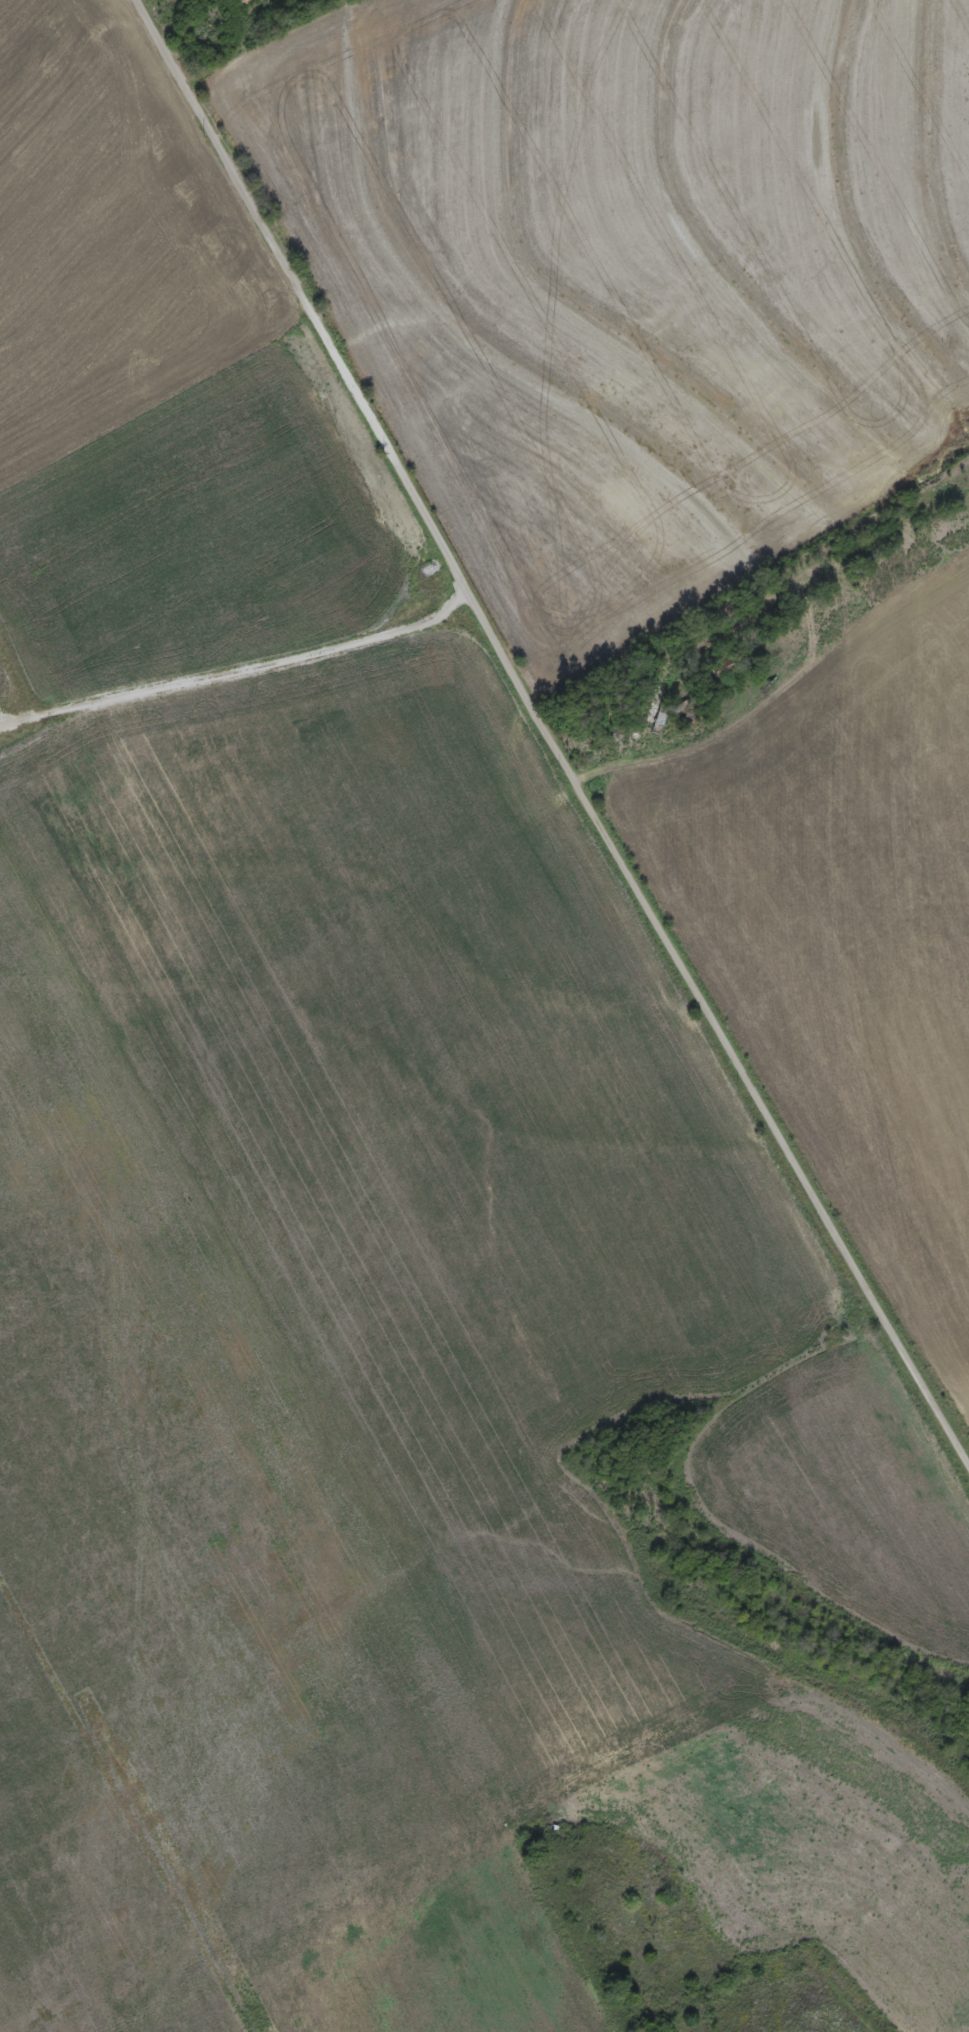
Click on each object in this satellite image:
road: (70, 217)
road: (238, 667)
building: (451, 683)
road: (546, 738)
road: (109, 1007)

